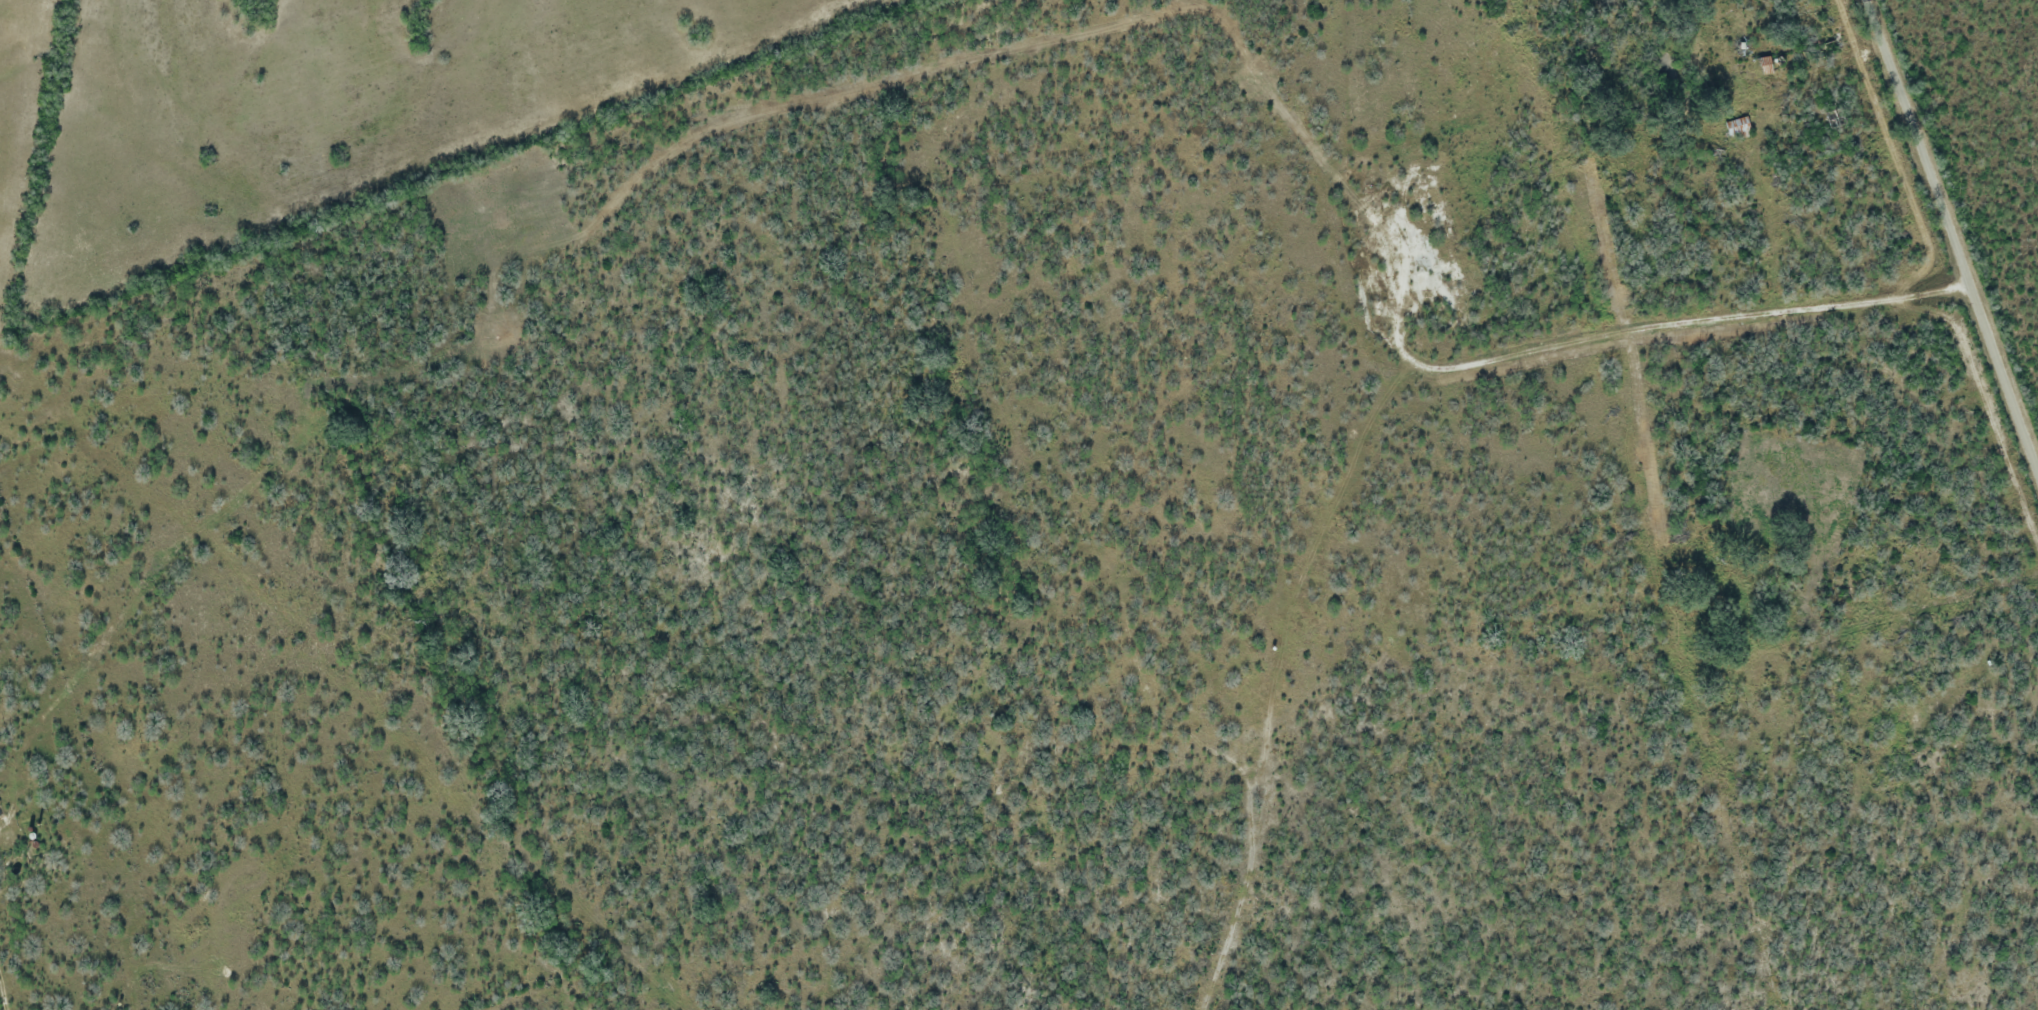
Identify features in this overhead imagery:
building: (1762, 65)
building: (1735, 126)
road: (1952, 233)
road: (4, 993)

